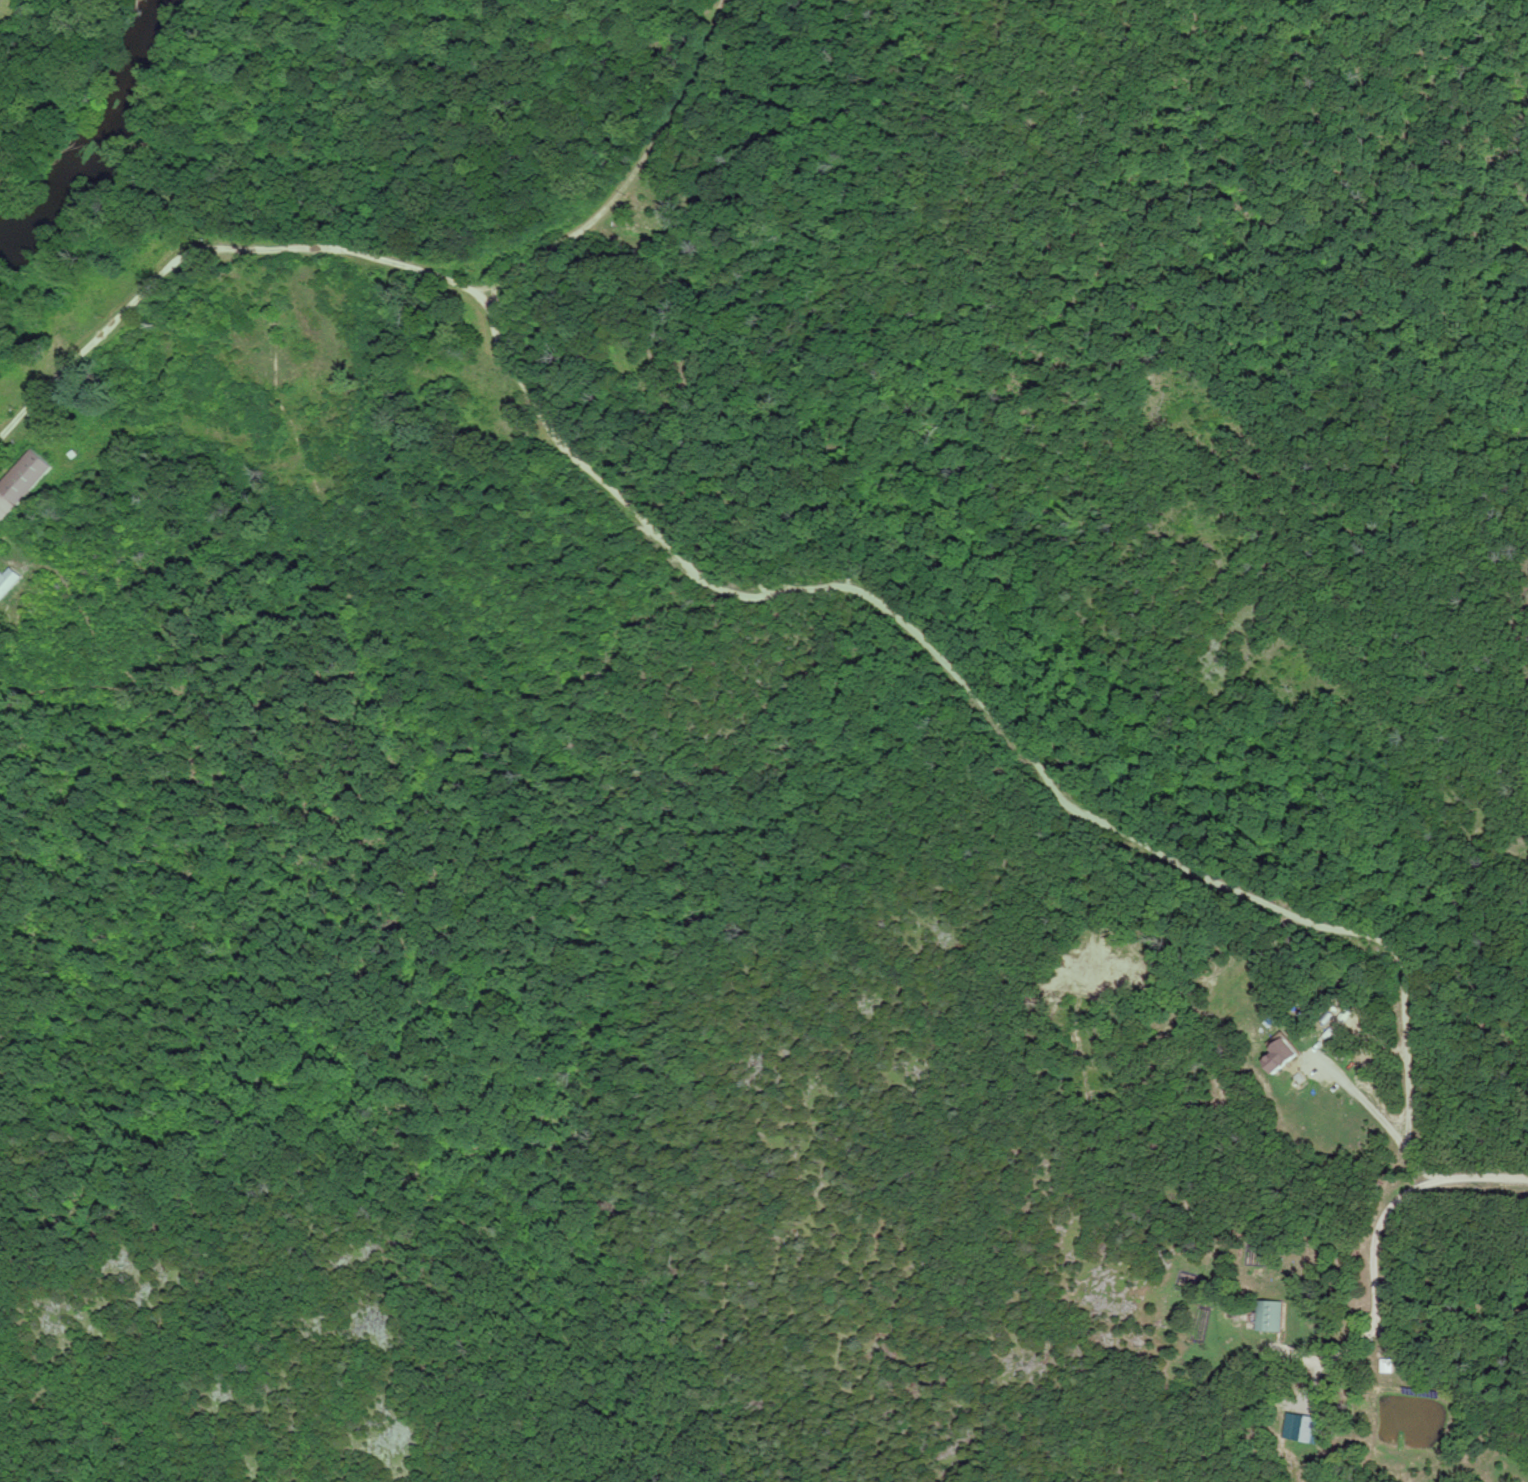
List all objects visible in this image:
river: (113, 148)
building: (20, 482)
building: (8, 582)
building: (1280, 1053)
road: (1379, 1226)
building: (1270, 1317)

